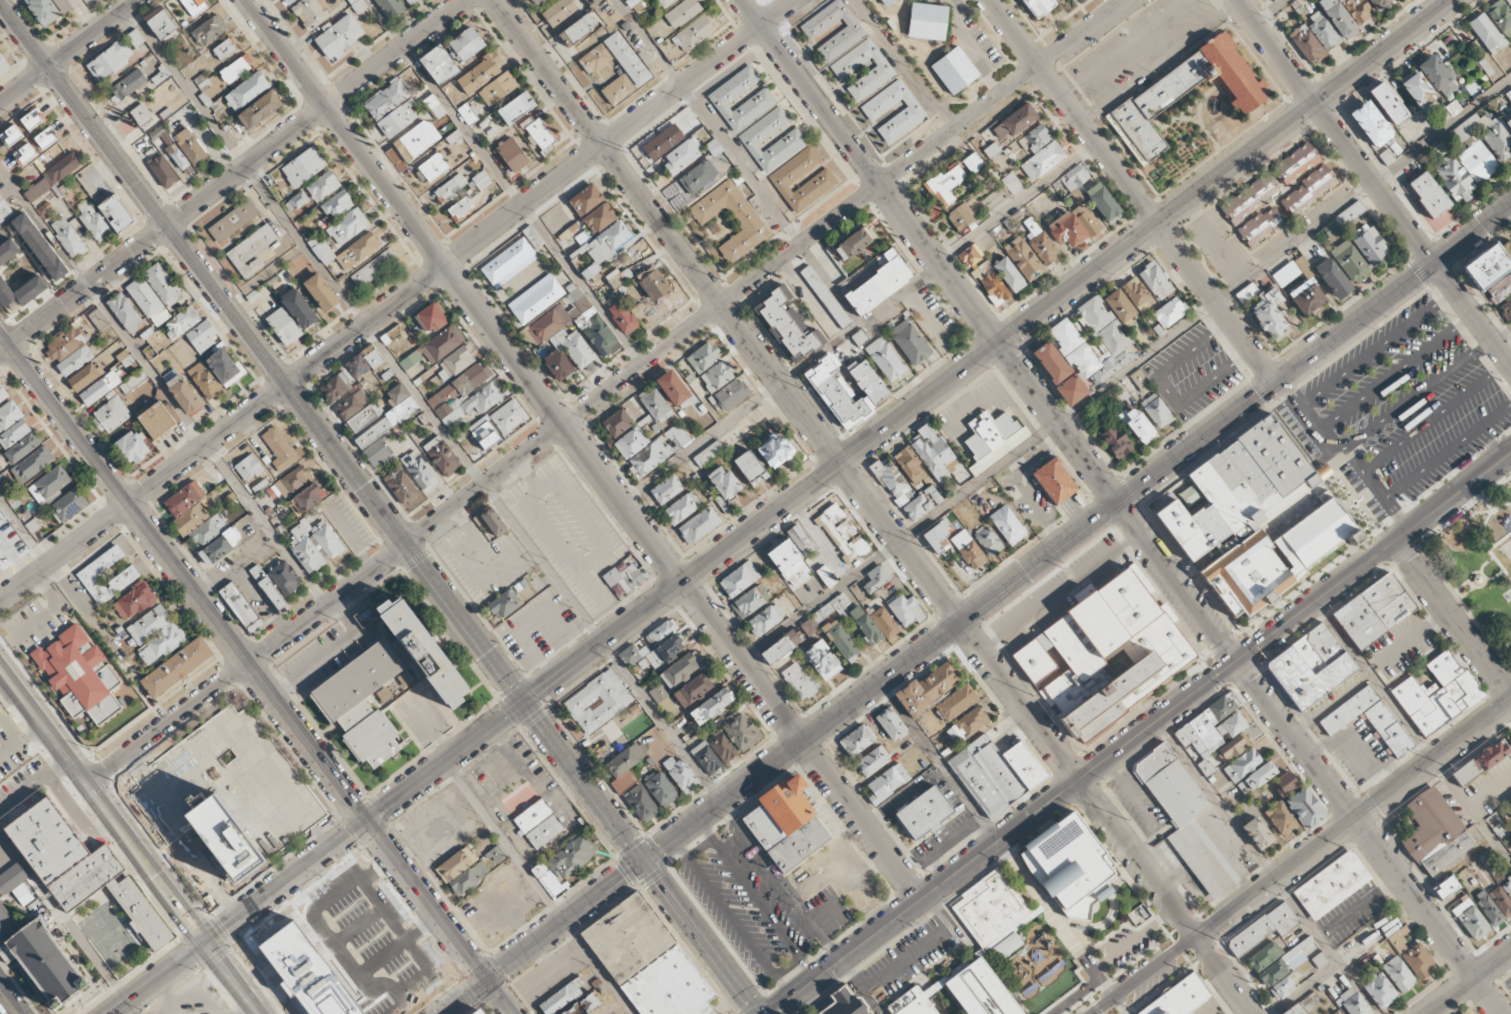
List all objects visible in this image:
building: (1060, 0)
building: (1274, 0)
building: (287, 1)
building: (410, 1)
building: (538, 1)
building: (595, 1)
building: (629, 1)
building: (1508, 1)
building: (663, 2)
building: (887, 2)
building: (1378, 3)
building: (67, 4)
building: (194, 6)
building: (1039, 6)
building: (390, 7)
building: (1358, 9)
building: (43, 11)
building: (558, 11)
road: (1272, 12)
building: (310, 13)
building: (682, 13)
building: (1501, 17)
building: (1338, 18)
building: (927, 21)
building: (163, 25)
building: (577, 29)
building: (209, 30)
building: (1322, 30)
building: (851, 31)
building: (694, 32)
building: (1486, 33)
parking lot: (969, 36)
building: (338, 37)
building: (466, 44)
building: (1306, 44)
building: (224, 49)
road: (68, 51)
building: (595, 59)
building: (626, 59)
building: (109, 60)
building: (439, 65)
building: (3, 66)
building: (237, 68)
building: (954, 70)
building: (882, 71)
building: (479, 74)
building: (160, 76)
building: (1437, 76)
building: (127, 85)
building: (498, 88)
building: (618, 89)
building: (1418, 90)
building: (247, 91)
building: (1508, 95)
building: (386, 99)
building: (761, 99)
building: (1152, 99)
building: (1387, 103)
building: (516, 108)
building: (259, 110)
building: (912, 112)
building: (467, 113)
building: (141, 114)
building: (33, 119)
building: (397, 119)
building: (1015, 121)
road: (707, 122)
building: (1508, 122)
building: (1371, 125)
road: (344, 132)
road: (619, 132)
building: (539, 134)
building: (1486, 135)
building: (11, 136)
building: (46, 138)
building: (1036, 138)
building: (791, 139)
building: (416, 140)
building: (662, 141)
building: (190, 146)
building: (714, 148)
building: (991, 150)
building: (25, 154)
building: (512, 154)
building: (682, 155)
building: (176, 156)
building: (1387, 157)
building: (1042, 161)
building: (1477, 161)
building: (972, 163)
building: (1296, 163)
building: (303, 167)
building: (62, 168)
building: (432, 168)
building: (162, 171)
road: (232, 176)
building: (698, 177)
building: (1453, 178)
building: (481, 179)
building: (822, 179)
building: (1071, 180)
road: (507, 181)
road: (1374, 182)
building: (1011, 183)
building: (944, 185)
building: (323, 186)
building: (450, 188)
building: (37, 190)
road: (1132, 191)
building: (1308, 191)
road: (143, 193)
building: (1428, 194)
building: (1249, 199)
building: (585, 200)
building: (296, 201)
building: (1103, 202)
building: (337, 204)
building: (460, 209)
building: (5, 210)
building: (1084, 212)
building: (116, 213)
building: (745, 216)
building: (960, 216)
building: (599, 218)
building: (94, 221)
building: (232, 221)
building: (347, 226)
building: (1261, 226)
building: (1066, 230)
building: (68, 237)
building: (532, 237)
building: (582, 238)
building: (607, 241)
building: (1040, 242)
building: (852, 244)
building: (40, 246)
building: (1371, 246)
building: (1507, 249)
building: (8, 251)
building: (251, 251)
building: (347, 251)
building: (970, 255)
building: (1023, 258)
building: (1350, 262)
building: (508, 263)
building: (1302, 264)
building: (1486, 267)
building: (374, 268)
building: (590, 271)
building: (1285, 274)
building: (1009, 275)
building: (617, 278)
building: (1332, 278)
building: (1155, 281)
building: (652, 283)
building: (990, 283)
building: (879, 284)
building: (162, 285)
building: (1500, 289)
building: (21, 291)
building: (321, 292)
road: (1067, 292)
building: (1247, 292)
building: (1136, 293)
building: (825, 296)
building: (1306, 297)
building: (535, 299)
building: (1120, 306)
building: (299, 308)
building: (1506, 308)
building: (124, 312)
building: (1169, 312)
building: (1270, 315)
building: (623, 317)
building: (430, 318)
building: (98, 319)
building: (181, 322)
building: (576, 323)
road: (858, 323)
road: (364, 324)
building: (788, 324)
building: (283, 326)
building: (202, 337)
building: (860, 337)
building: (1111, 337)
building: (909, 342)
building: (65, 343)
building: (442, 344)
building: (703, 357)
building: (885, 359)
building: (74, 360)
building: (410, 360)
building: (126, 361)
building: (1051, 362)
building: (454, 364)
building: (557, 365)
building: (224, 367)
road: (1125, 369)
building: (352, 373)
building: (84, 376)
building: (717, 376)
building: (133, 380)
building: (204, 380)
building: (867, 381)
building: (1141, 381)
building: (99, 388)
road: (162, 388)
building: (673, 388)
building: (1071, 389)
building: (180, 391)
building: (836, 392)
building: (3, 393)
building: (397, 393)
road: (603, 393)
building: (731, 394)
building: (465, 395)
road: (421, 401)
building: (351, 404)
building: (655, 405)
building: (1156, 411)
building: (9, 415)
building: (111, 415)
building: (508, 416)
building: (364, 417)
building: (156, 420)
building: (617, 422)
building: (386, 423)
road: (563, 424)
building: (1137, 425)
building: (484, 433)
building: (992, 433)
building: (14, 434)
building: (631, 442)
building: (1116, 442)
building: (22, 447)
building: (134, 447)
building: (279, 449)
building: (658, 451)
building: (776, 451)
building: (708, 453)
building: (932, 453)
building: (378, 455)
building: (442, 456)
building: (33, 463)
building: (910, 465)
building: (248, 467)
building: (750, 468)
building: (419, 471)
road: (528, 475)
building: (292, 481)
building: (1054, 481)
building: (723, 482)
building: (892, 482)
building: (49, 484)
building: (668, 487)
building: (402, 489)
road: (143, 492)
building: (1188, 495)
building: (307, 498)
building: (185, 499)
building: (922, 503)
building: (68, 505)
road: (873, 506)
road: (1120, 506)
building: (682, 508)
road: (579, 514)
building: (1257, 518)
building: (190, 519)
building: (493, 522)
building: (699, 525)
building: (1007, 525)
road: (1485, 525)
building: (842, 533)
building: (205, 534)
road: (1077, 534)
building: (936, 539)
building: (800, 540)
building: (988, 541)
road: (1500, 542)
road: (404, 543)
building: (314, 544)
building: (968, 549)
park: (1507, 550)
building: (212, 551)
road: (566, 555)
road: (487, 556)
building: (1208, 558)
building: (789, 563)
road: (1483, 567)
building: (1, 568)
park: (1478, 569)
building: (281, 575)
building: (127, 576)
building: (825, 576)
building: (623, 577)
road: (1470, 577)
road: (58, 578)
road: (182, 578)
building: (876, 578)
building: (739, 579)
road: (1485, 581)
building: (272, 593)
road: (1453, 593)
building: (134, 601)
building: (749, 601)
building: (239, 604)
building: (503, 605)
road: (1452, 605)
building: (906, 610)
building: (1373, 610)
building: (765, 619)
road: (1452, 619)
building: (885, 622)
parking lot: (35, 623)
building: (864, 625)
building: (660, 632)
building: (155, 635)
building: (840, 640)
building: (781, 647)
building: (652, 653)
building: (1105, 655)
building: (822, 660)
traffic signals: (1237, 662)
building: (176, 667)
building: (1309, 667)
building: (678, 671)
building: (82, 676)
building: (800, 681)
building: (386, 683)
building: (929, 688)
building: (693, 690)
building: (1437, 694)
building: (661, 699)
building: (598, 701)
traffic signals: (524, 702)
building: (956, 702)
building: (711, 706)
building: (1369, 720)
building: (891, 724)
building: (968, 724)
building: (1231, 725)
building: (1206, 727)
building: (741, 731)
road: (1412, 733)
road: (1140, 734)
building: (857, 740)
road: (801, 741)
parking lot: (11, 747)
building: (721, 747)
building: (1233, 747)
building: (706, 758)
building: (872, 761)
building: (1480, 762)
road: (939, 763)
building: (1242, 765)
building: (625, 766)
building: (1205, 768)
road: (72, 773)
building: (996, 773)
building: (681, 774)
building: (1256, 778)
building: (227, 780)
parking garage: (227, 780)
road: (583, 782)
building: (887, 783)
building: (1284, 784)
road: (32, 786)
building: (661, 789)
road: (396, 798)
building: (641, 803)
building: (1509, 803)
building: (1304, 808)
building: (924, 813)
building: (1281, 818)
traffic signals: (365, 822)
building: (789, 823)
building: (1193, 823)
building: (538, 824)
road: (137, 831)
building: (1430, 832)
building: (1257, 833)
building: (228, 835)
road: (4, 838)
railway: (127, 844)
building: (495, 855)
building: (65, 856)
building: (571, 857)
road: (1301, 859)
traffic signals: (643, 862)
building: (456, 864)
building: (1074, 867)
road: (1265, 868)
building: (12, 878)
building: (468, 878)
building: (546, 879)
building: (1331, 885)
building: (1445, 887)
building: (1507, 887)
building: (22, 894)
road: (182, 901)
building: (1501, 901)
parking lot: (756, 902)
building: (1488, 908)
road: (168, 909)
road: (65, 918)
road: (437, 918)
building: (1470, 920)
railway: (193, 922)
building: (7, 925)
building: (1263, 929)
road: (542, 938)
road: (699, 938)
building: (981, 946)
building: (1005, 947)
building: (1296, 954)
building: (1411, 954)
building: (1264, 956)
building: (1319, 959)
building: (647, 960)
parking lot: (905, 961)
building: (48, 963)
building: (1273, 972)
building: (1398, 974)
road: (225, 980)
traffic signals: (485, 982)
road: (1471, 983)
building: (1282, 988)
building: (1379, 990)
building: (561, 997)
building: (1178, 997)
parking lot: (192, 999)
building: (1310, 1000)
building: (1352, 1002)
road: (7, 1003)
building: (846, 1003)
building: (583, 1005)
road: (1119, 1005)
building: (1294, 1010)
building: (476, 1011)
building: (1337, 1012)
building: (1467, 1012)

